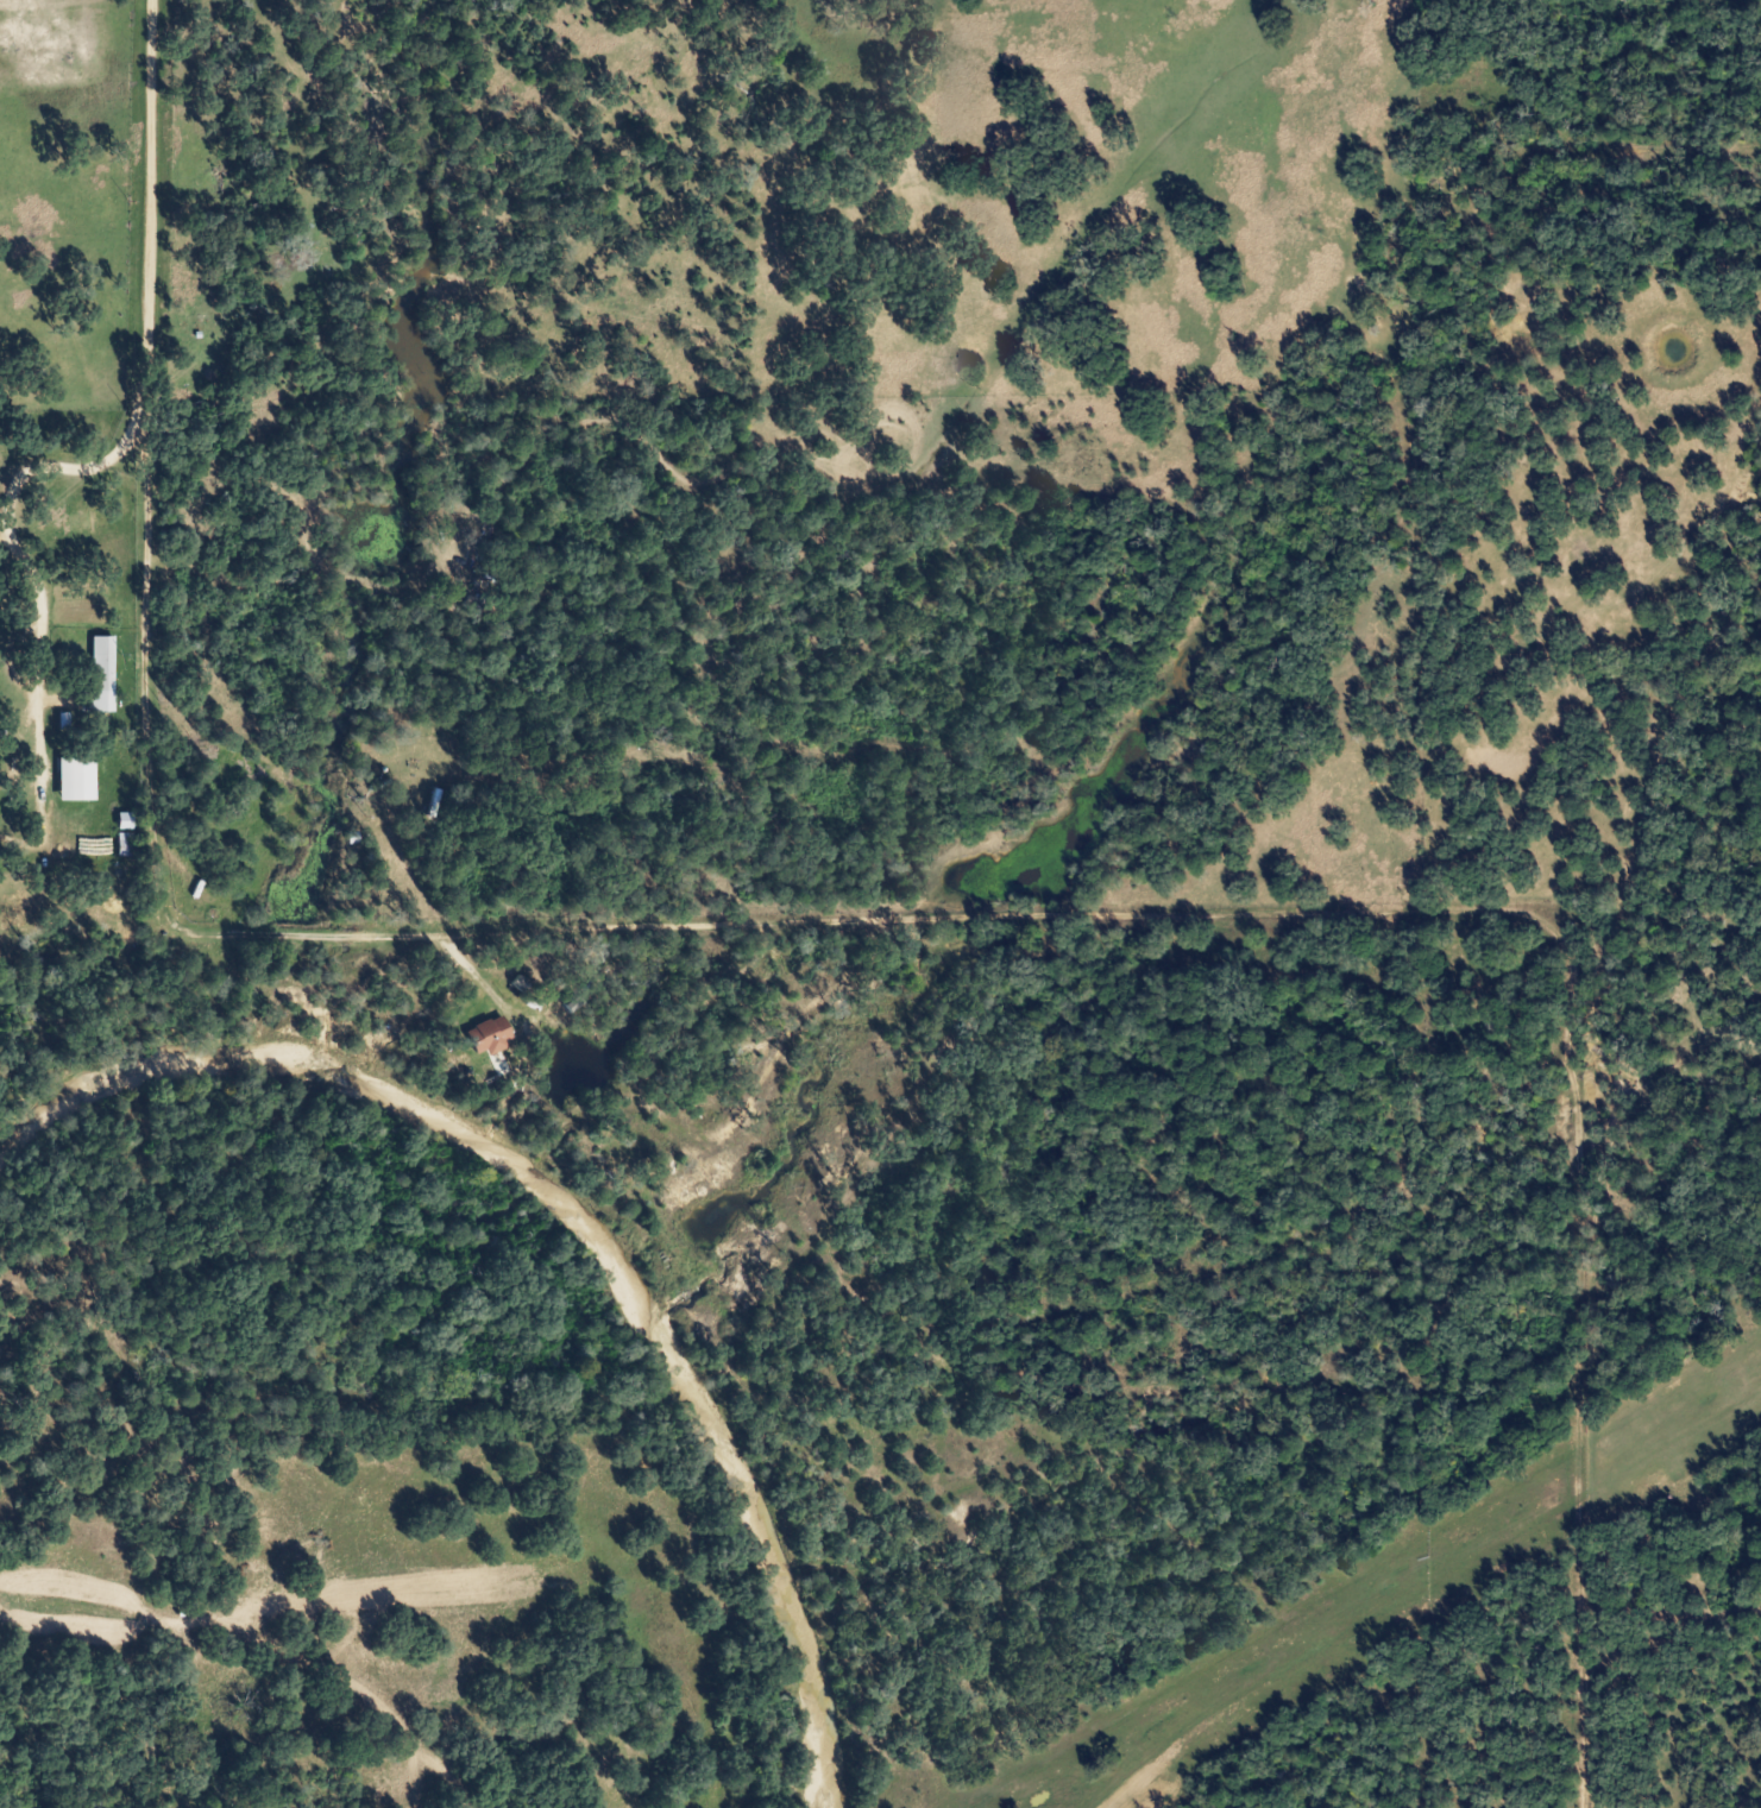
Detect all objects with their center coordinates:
road: (101, 454)
building: (95, 673)
building: (70, 777)
building: (119, 833)
building: (105, 865)

